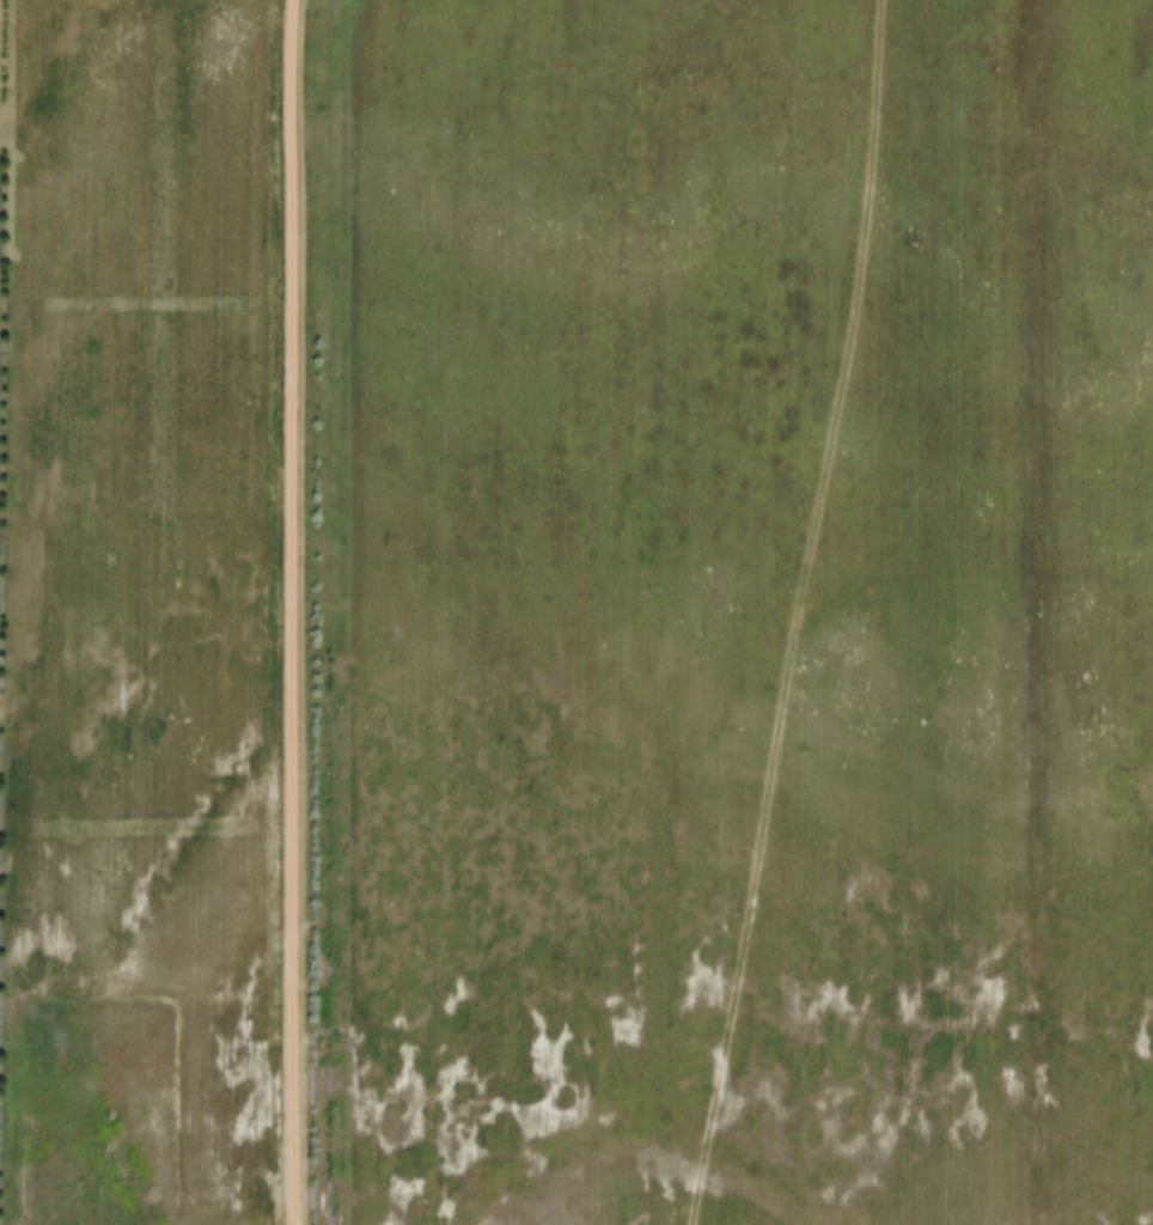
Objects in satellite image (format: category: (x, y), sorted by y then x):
road: (293, 611)

